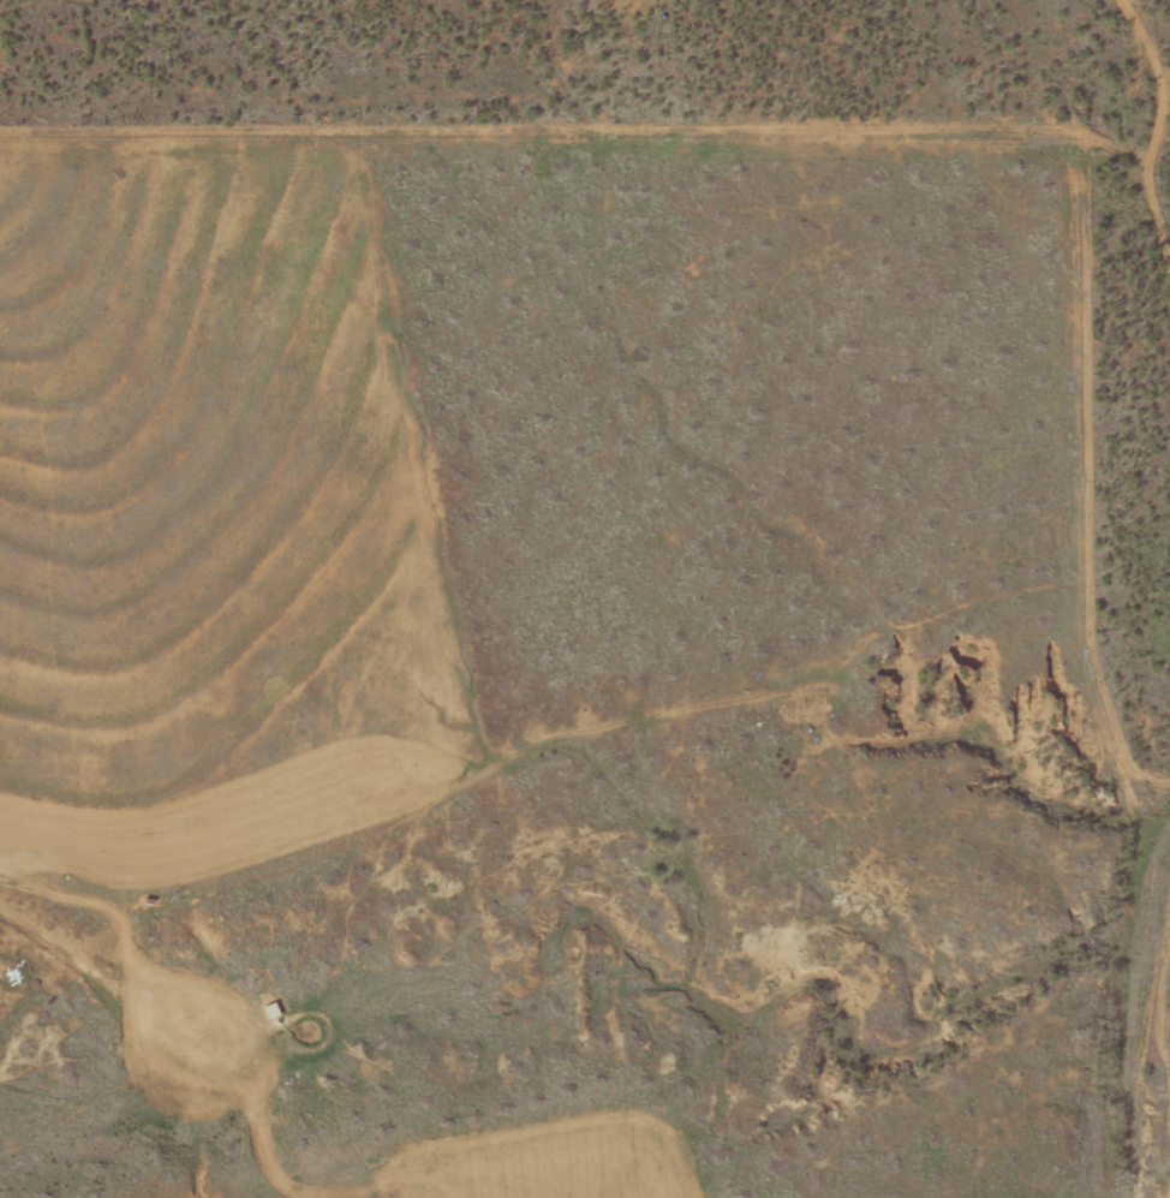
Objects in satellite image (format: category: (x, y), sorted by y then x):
road: (310, 1126)

